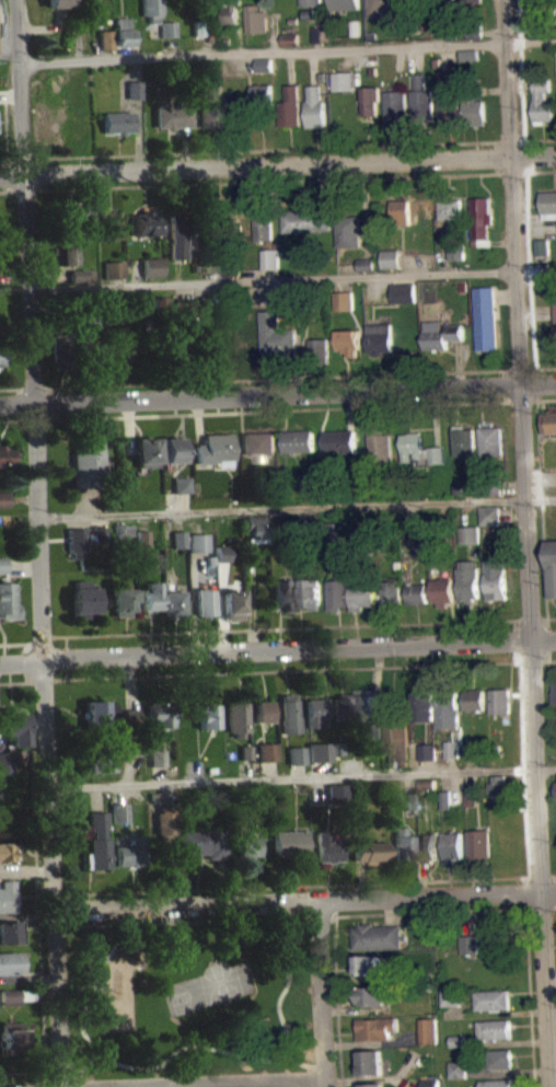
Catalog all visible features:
building: (444, 0)
building: (471, 1)
building: (59, 2)
building: (311, 2)
building: (201, 3)
building: (345, 4)
building: (546, 4)
building: (383, 7)
building: (152, 9)
building: (232, 11)
building: (2, 12)
building: (94, 12)
building: (310, 14)
building: (256, 18)
building: (293, 21)
building: (442, 25)
road: (50, 26)
building: (198, 26)
building: (169, 27)
building: (123, 31)
building: (474, 31)
road: (274, 33)
building: (169, 35)
building: (106, 37)
building: (290, 37)
road: (443, 38)
building: (225, 41)
road: (198, 44)
road: (170, 45)
building: (290, 46)
road: (288, 50)
building: (470, 54)
building: (470, 61)
building: (438, 62)
building: (264, 63)
building: (264, 71)
building: (343, 80)
building: (134, 89)
building: (262, 95)
building: (449, 95)
building: (370, 100)
building: (421, 100)
building: (541, 102)
building: (290, 106)
building: (395, 106)
building: (315, 107)
building: (474, 111)
building: (172, 114)
building: (212, 116)
building: (117, 122)
road: (5, 128)
road: (532, 139)
road: (267, 150)
road: (15, 159)
road: (278, 163)
road: (543, 171)
road: (513, 173)
road: (8, 178)
road: (252, 183)
building: (547, 204)
building: (450, 208)
building: (402, 210)
building: (86, 212)
building: (223, 213)
building: (306, 219)
building: (480, 219)
building: (144, 222)
building: (108, 223)
building: (264, 224)
building: (349, 230)
building: (178, 233)
building: (541, 246)
building: (67, 250)
building: (455, 250)
building: (215, 257)
building: (271, 258)
building: (391, 258)
building: (366, 264)
building: (151, 266)
building: (113, 269)
building: (229, 270)
building: (367, 270)
building: (78, 275)
road: (291, 278)
building: (78, 281)
building: (403, 292)
building: (345, 300)
building: (288, 301)
building: (186, 308)
building: (554, 311)
building: (92, 316)
building: (485, 317)
building: (277, 334)
building: (440, 334)
building: (379, 335)
building: (555, 335)
building: (60, 340)
building: (348, 340)
building: (119, 348)
building: (322, 349)
building: (90, 351)
building: (1, 355)
building: (167, 356)
road: (538, 367)
road: (534, 374)
road: (269, 378)
road: (277, 392)
road: (545, 398)
road: (529, 400)
road: (18, 405)
road: (270, 410)
building: (549, 421)
building: (298, 440)
building: (462, 440)
building: (489, 440)
building: (339, 441)
building: (258, 444)
building: (379, 444)
building: (171, 449)
building: (215, 449)
building: (418, 449)
building: (144, 451)
building: (5, 454)
building: (88, 463)
road: (541, 476)
building: (308, 481)
building: (181, 484)
building: (486, 486)
building: (457, 489)
building: (3, 498)
road: (298, 507)
building: (490, 514)
building: (301, 527)
building: (4, 528)
building: (256, 528)
building: (282, 528)
road: (542, 529)
building: (123, 530)
building: (100, 533)
building: (362, 533)
building: (470, 534)
building: (124, 536)
building: (282, 536)
building: (142, 537)
building: (179, 539)
building: (77, 541)
building: (99, 542)
building: (198, 542)
road: (40, 543)
building: (363, 543)
road: (528, 543)
building: (222, 552)
building: (211, 560)
building: (3, 564)
building: (551, 567)
building: (497, 578)
building: (470, 580)
building: (443, 590)
building: (392, 591)
building: (310, 592)
building: (417, 592)
building: (283, 593)
building: (339, 593)
building: (363, 594)
building: (151, 595)
building: (7, 600)
building: (84, 600)
building: (123, 600)
building: (174, 601)
building: (205, 601)
building: (232, 603)
road: (551, 617)
road: (294, 627)
road: (520, 640)
road: (277, 647)
road: (551, 661)
road: (287, 669)
road: (21, 681)
building: (555, 694)
building: (474, 699)
building: (500, 699)
building: (366, 703)
building: (424, 704)
building: (341, 707)
building: (448, 707)
building: (259, 710)
building: (314, 710)
building: (97, 713)
building: (159, 714)
building: (288, 714)
building: (205, 716)
building: (235, 716)
building: (129, 717)
building: (12, 726)
building: (378, 730)
building: (398, 740)
building: (130, 747)
building: (335, 748)
building: (454, 749)
building: (471, 750)
building: (243, 751)
building: (264, 751)
building: (316, 751)
building: (429, 751)
building: (293, 754)
building: (154, 756)
building: (97, 758)
building: (472, 758)
building: (5, 762)
building: (99, 771)
road: (302, 777)
building: (428, 783)
building: (502, 788)
building: (429, 791)
building: (153, 795)
building: (473, 796)
building: (449, 799)
building: (406, 800)
building: (117, 812)
building: (163, 821)
building: (96, 841)
building: (287, 842)
building: (200, 843)
building: (246, 846)
building: (401, 846)
building: (428, 846)
building: (455, 846)
building: (482, 846)
building: (326, 847)
building: (7, 851)
building: (368, 851)
building: (128, 853)
road: (304, 884)
building: (7, 895)
road: (304, 899)
road: (541, 907)
road: (520, 909)
road: (187, 920)
building: (10, 930)
building: (378, 936)
building: (497, 940)
building: (471, 944)
building: (10, 962)
building: (367, 962)
road: (39, 970)
building: (369, 971)
road: (337, 992)
road: (322, 993)
park: (189, 994)
building: (15, 995)
building: (371, 995)
building: (452, 996)
building: (494, 999)
building: (14, 1003)
road: (553, 1015)
building: (377, 1028)
building: (496, 1029)
building: (430, 1030)
building: (12, 1038)
building: (459, 1040)
road: (185, 1044)
building: (500, 1057)
road: (305, 1063)
building: (371, 1063)
road: (80, 1068)
building: (459, 1068)
road: (39, 1072)
road: (310, 1075)
road: (224, 1083)
building: (431, 1083)
building: (500, 1083)
building: (372, 1085)

